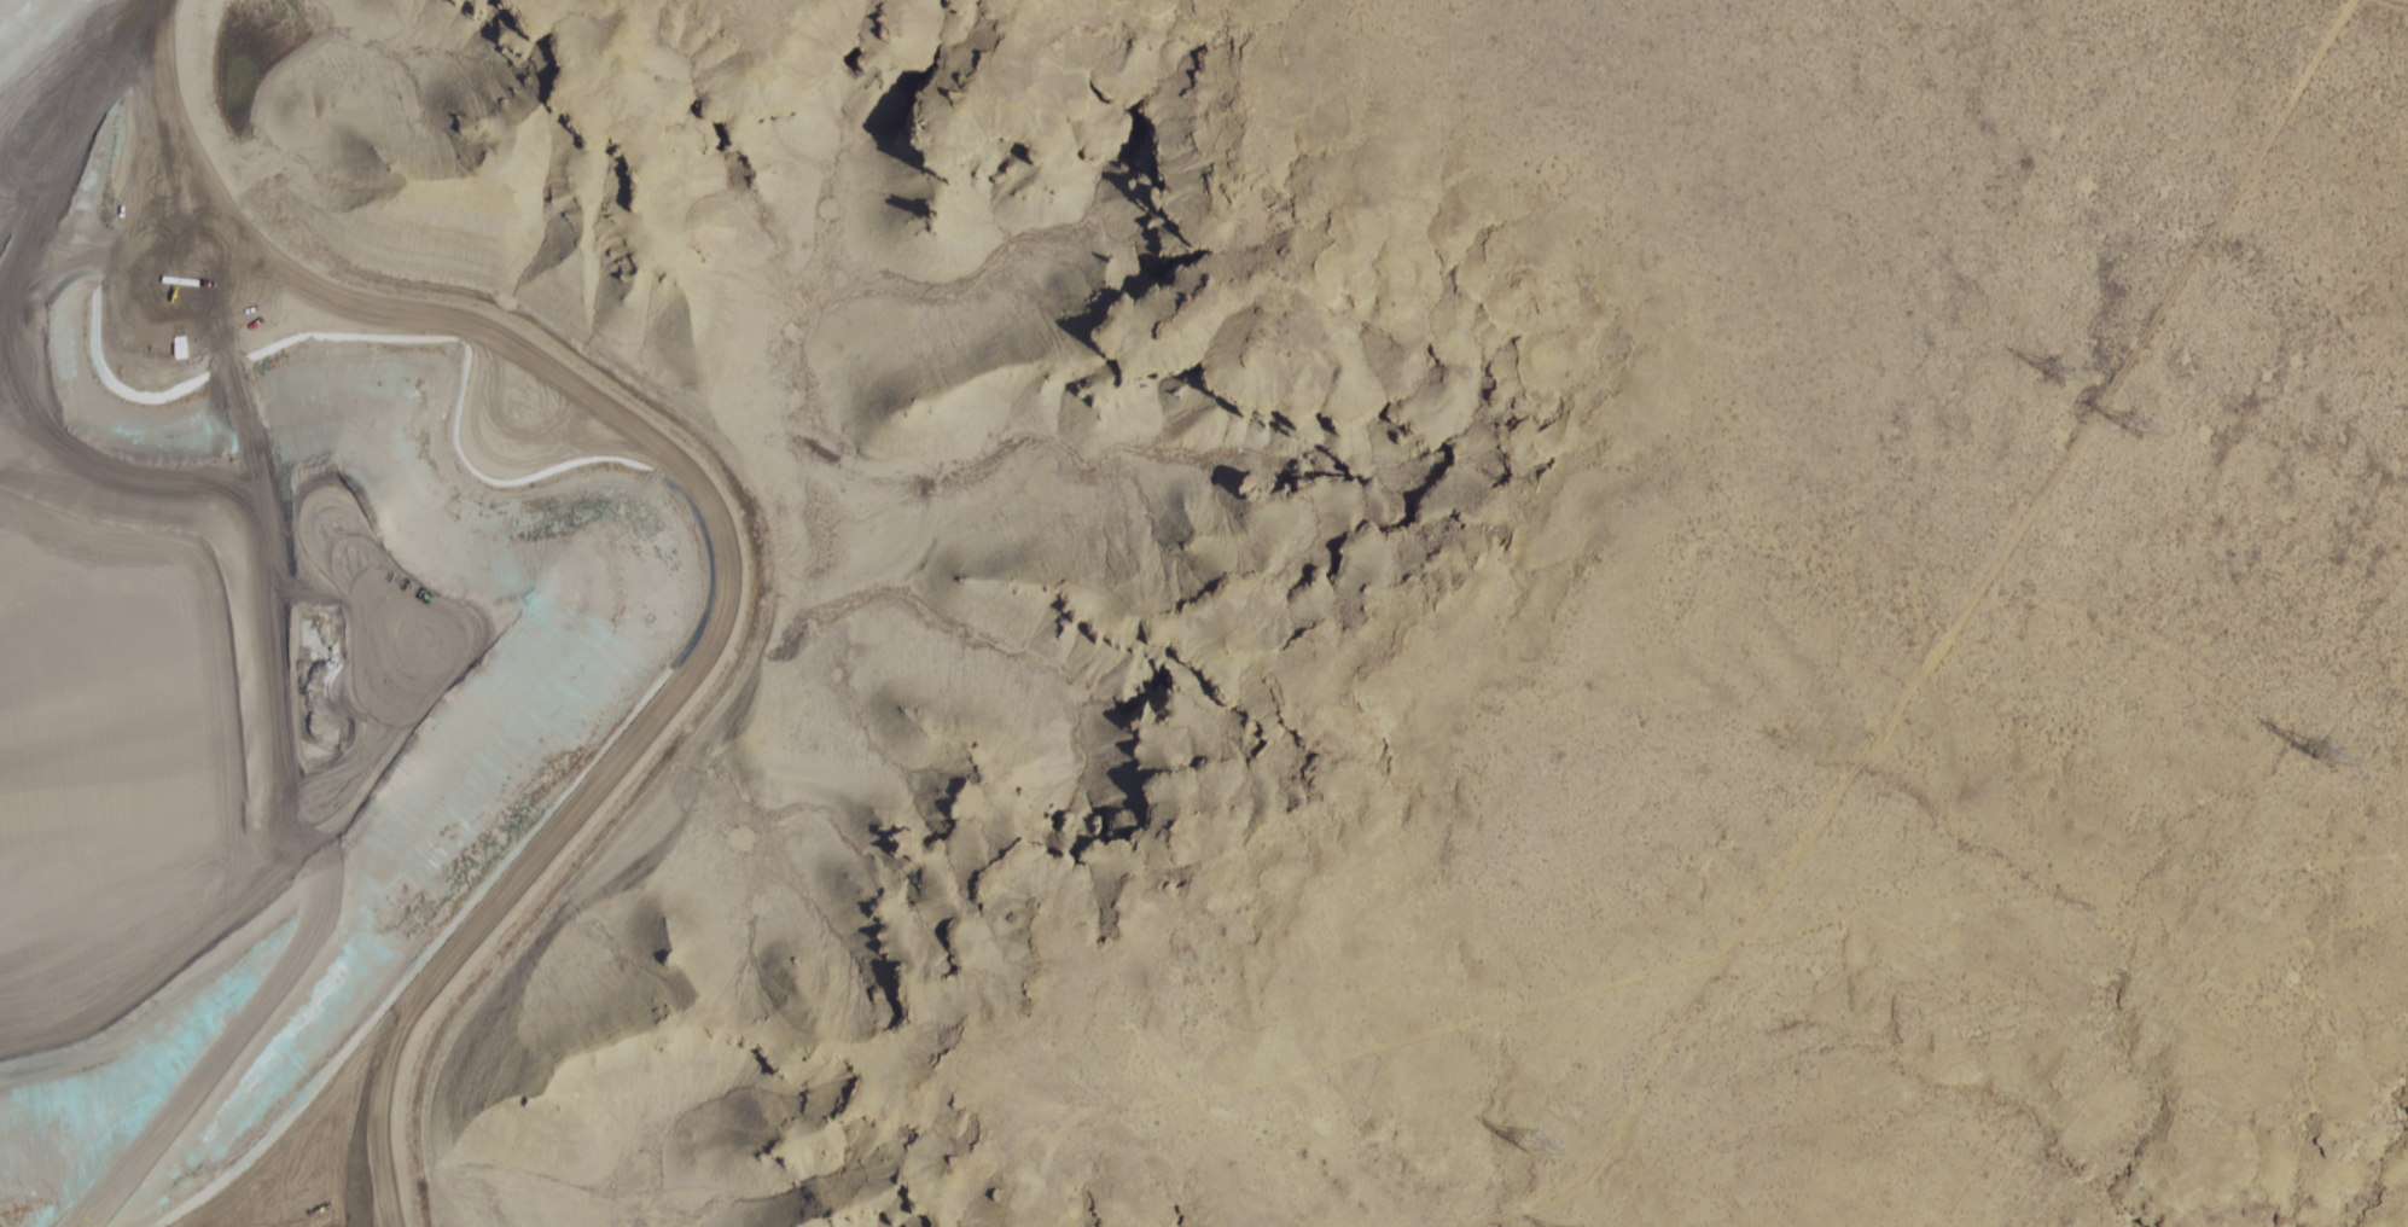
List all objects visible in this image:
power tower: (2055, 362)
power tower: (2136, 423)
power tower: (2317, 745)
power tower: (1547, 1141)

